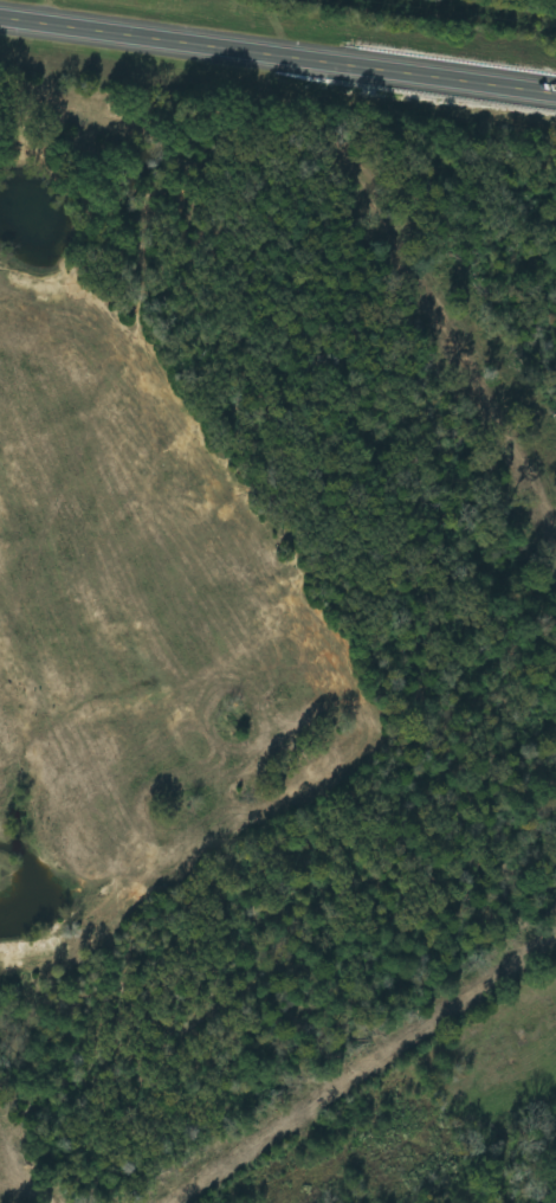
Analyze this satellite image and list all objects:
road: (278, 58)

